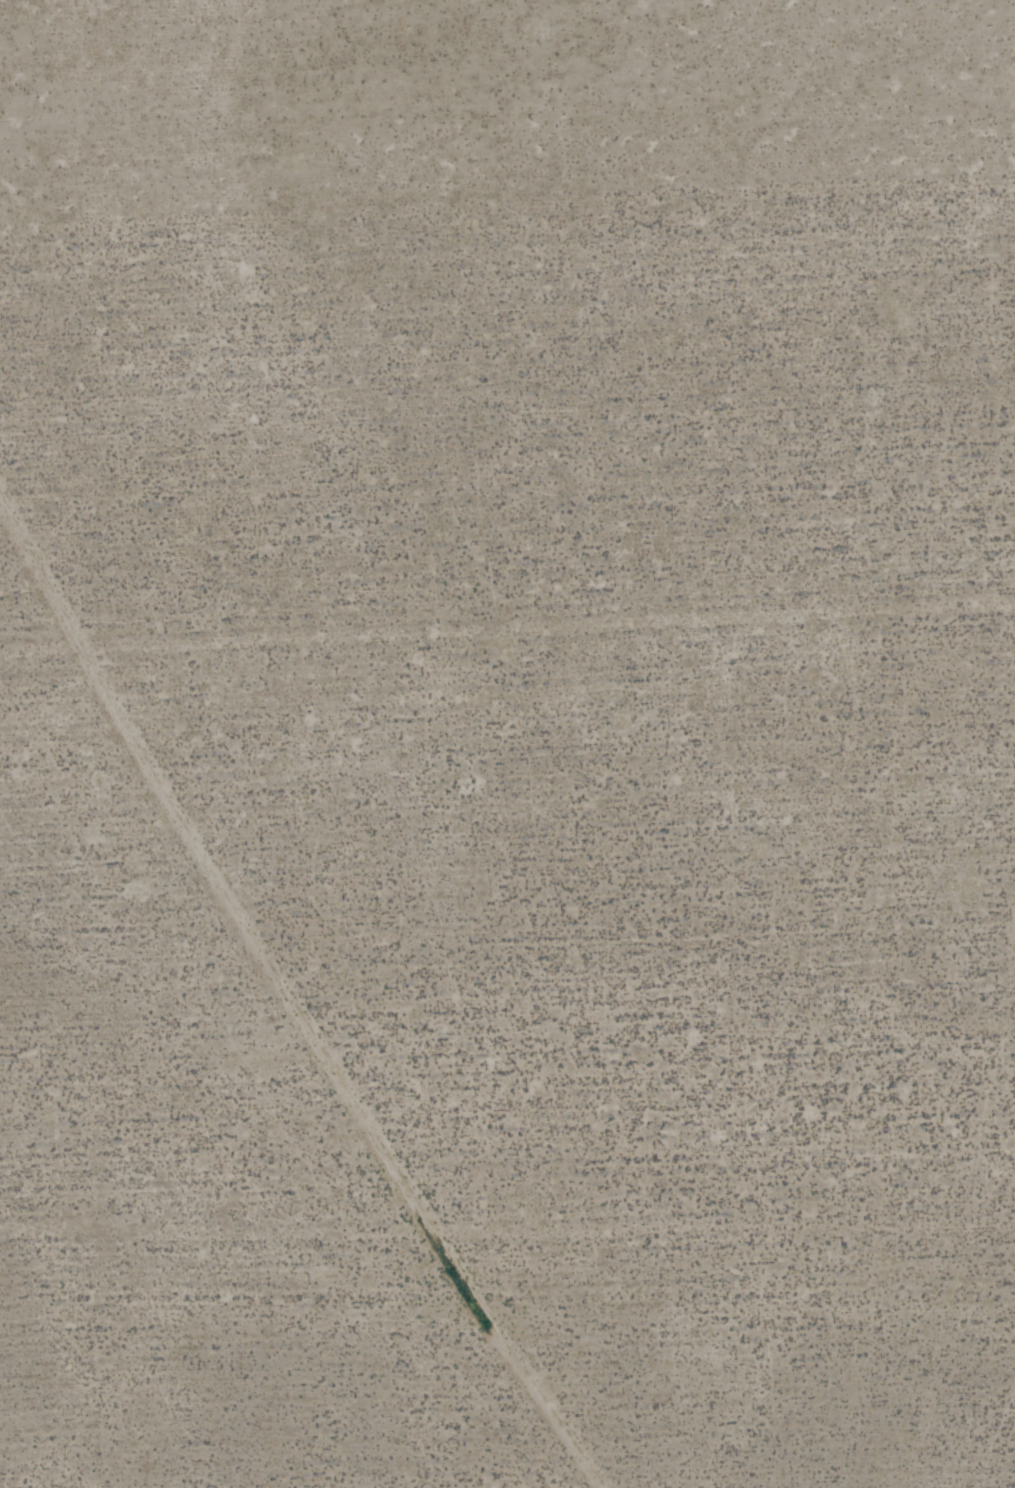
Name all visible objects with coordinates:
road: (309, 985)

